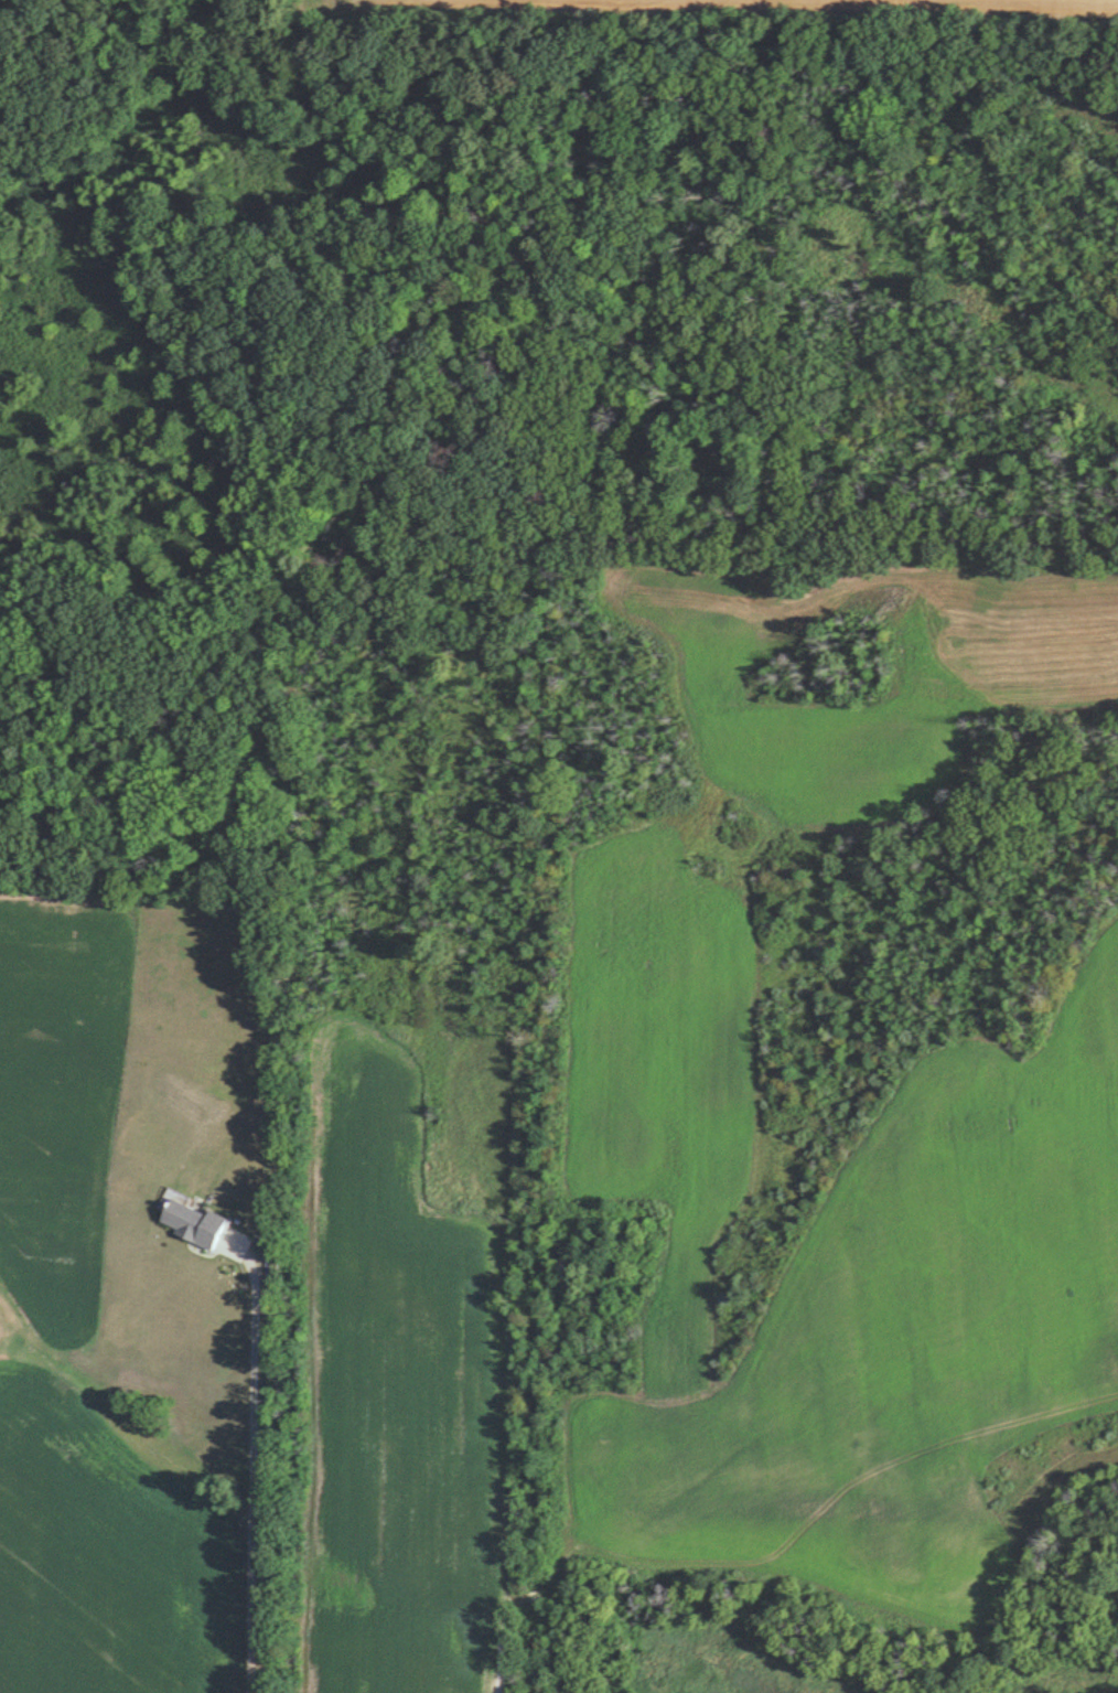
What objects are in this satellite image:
building: (193, 1221)
road: (254, 1487)

